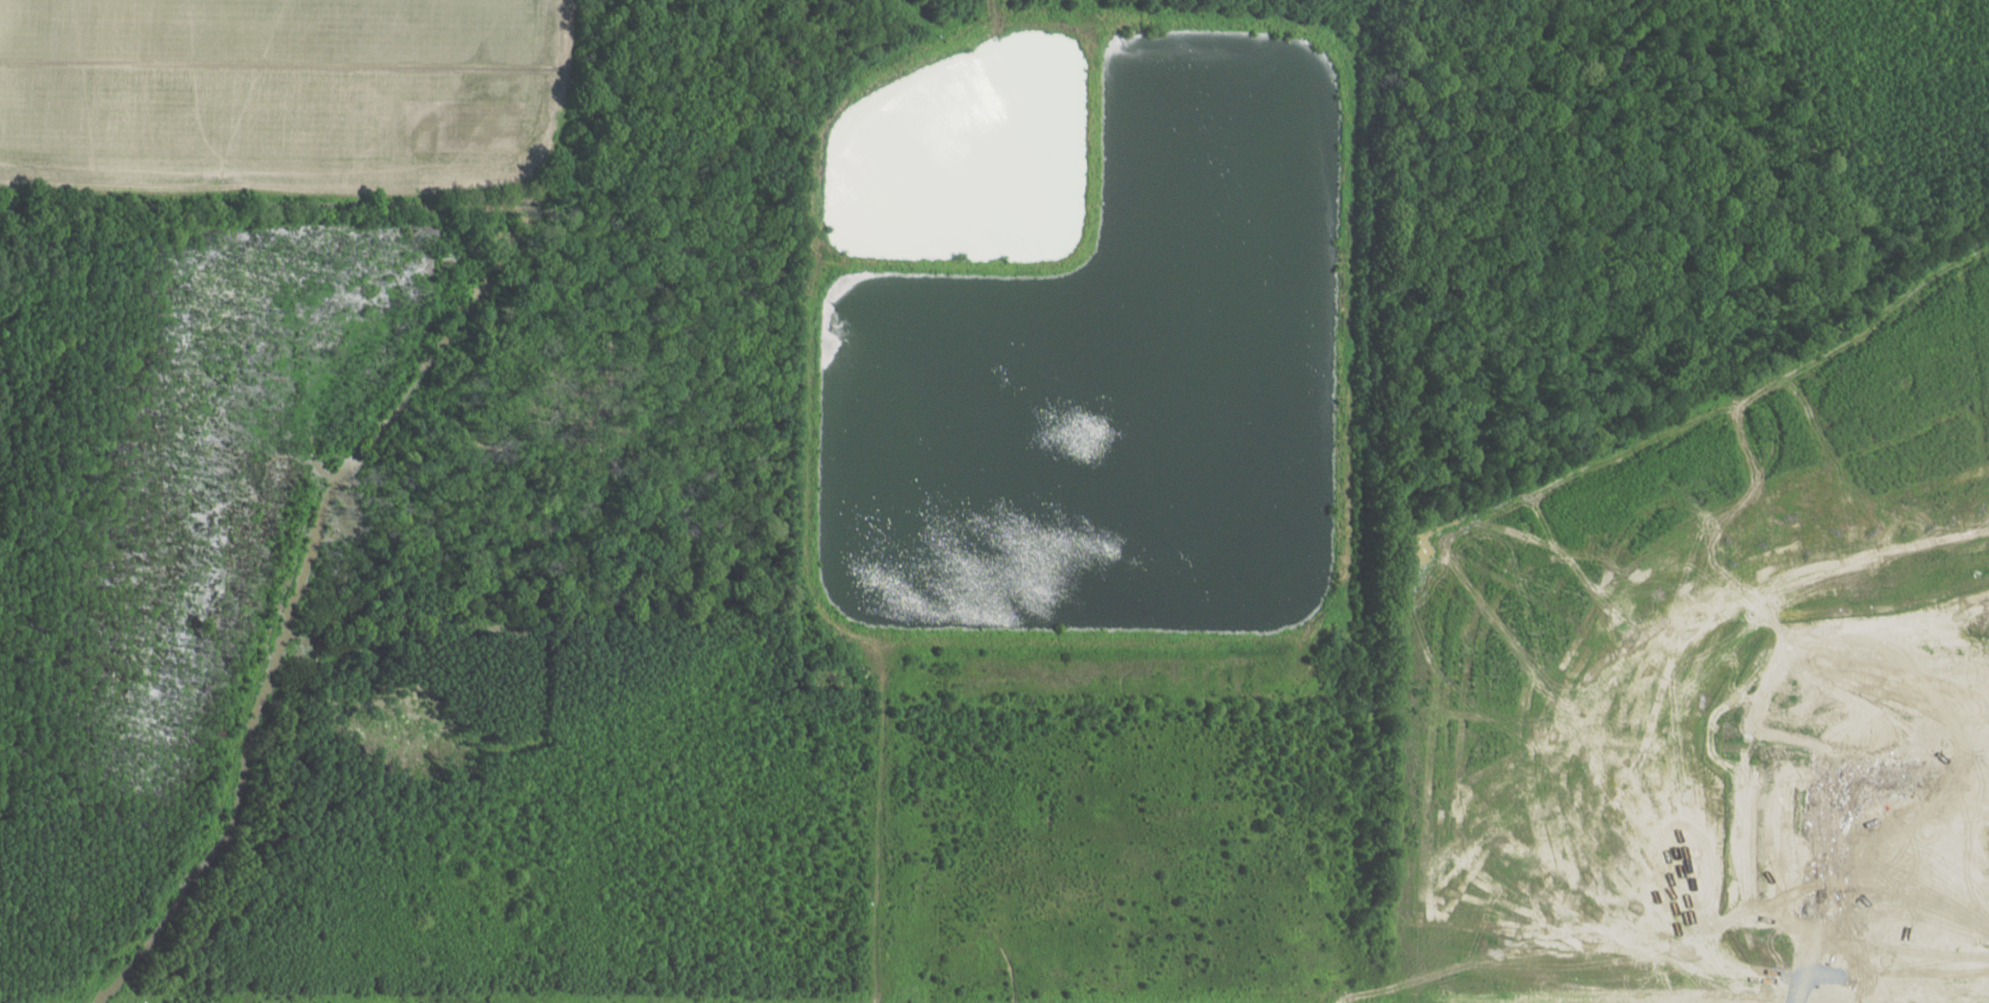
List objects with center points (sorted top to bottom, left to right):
road: (1059, 264)
road: (803, 316)

